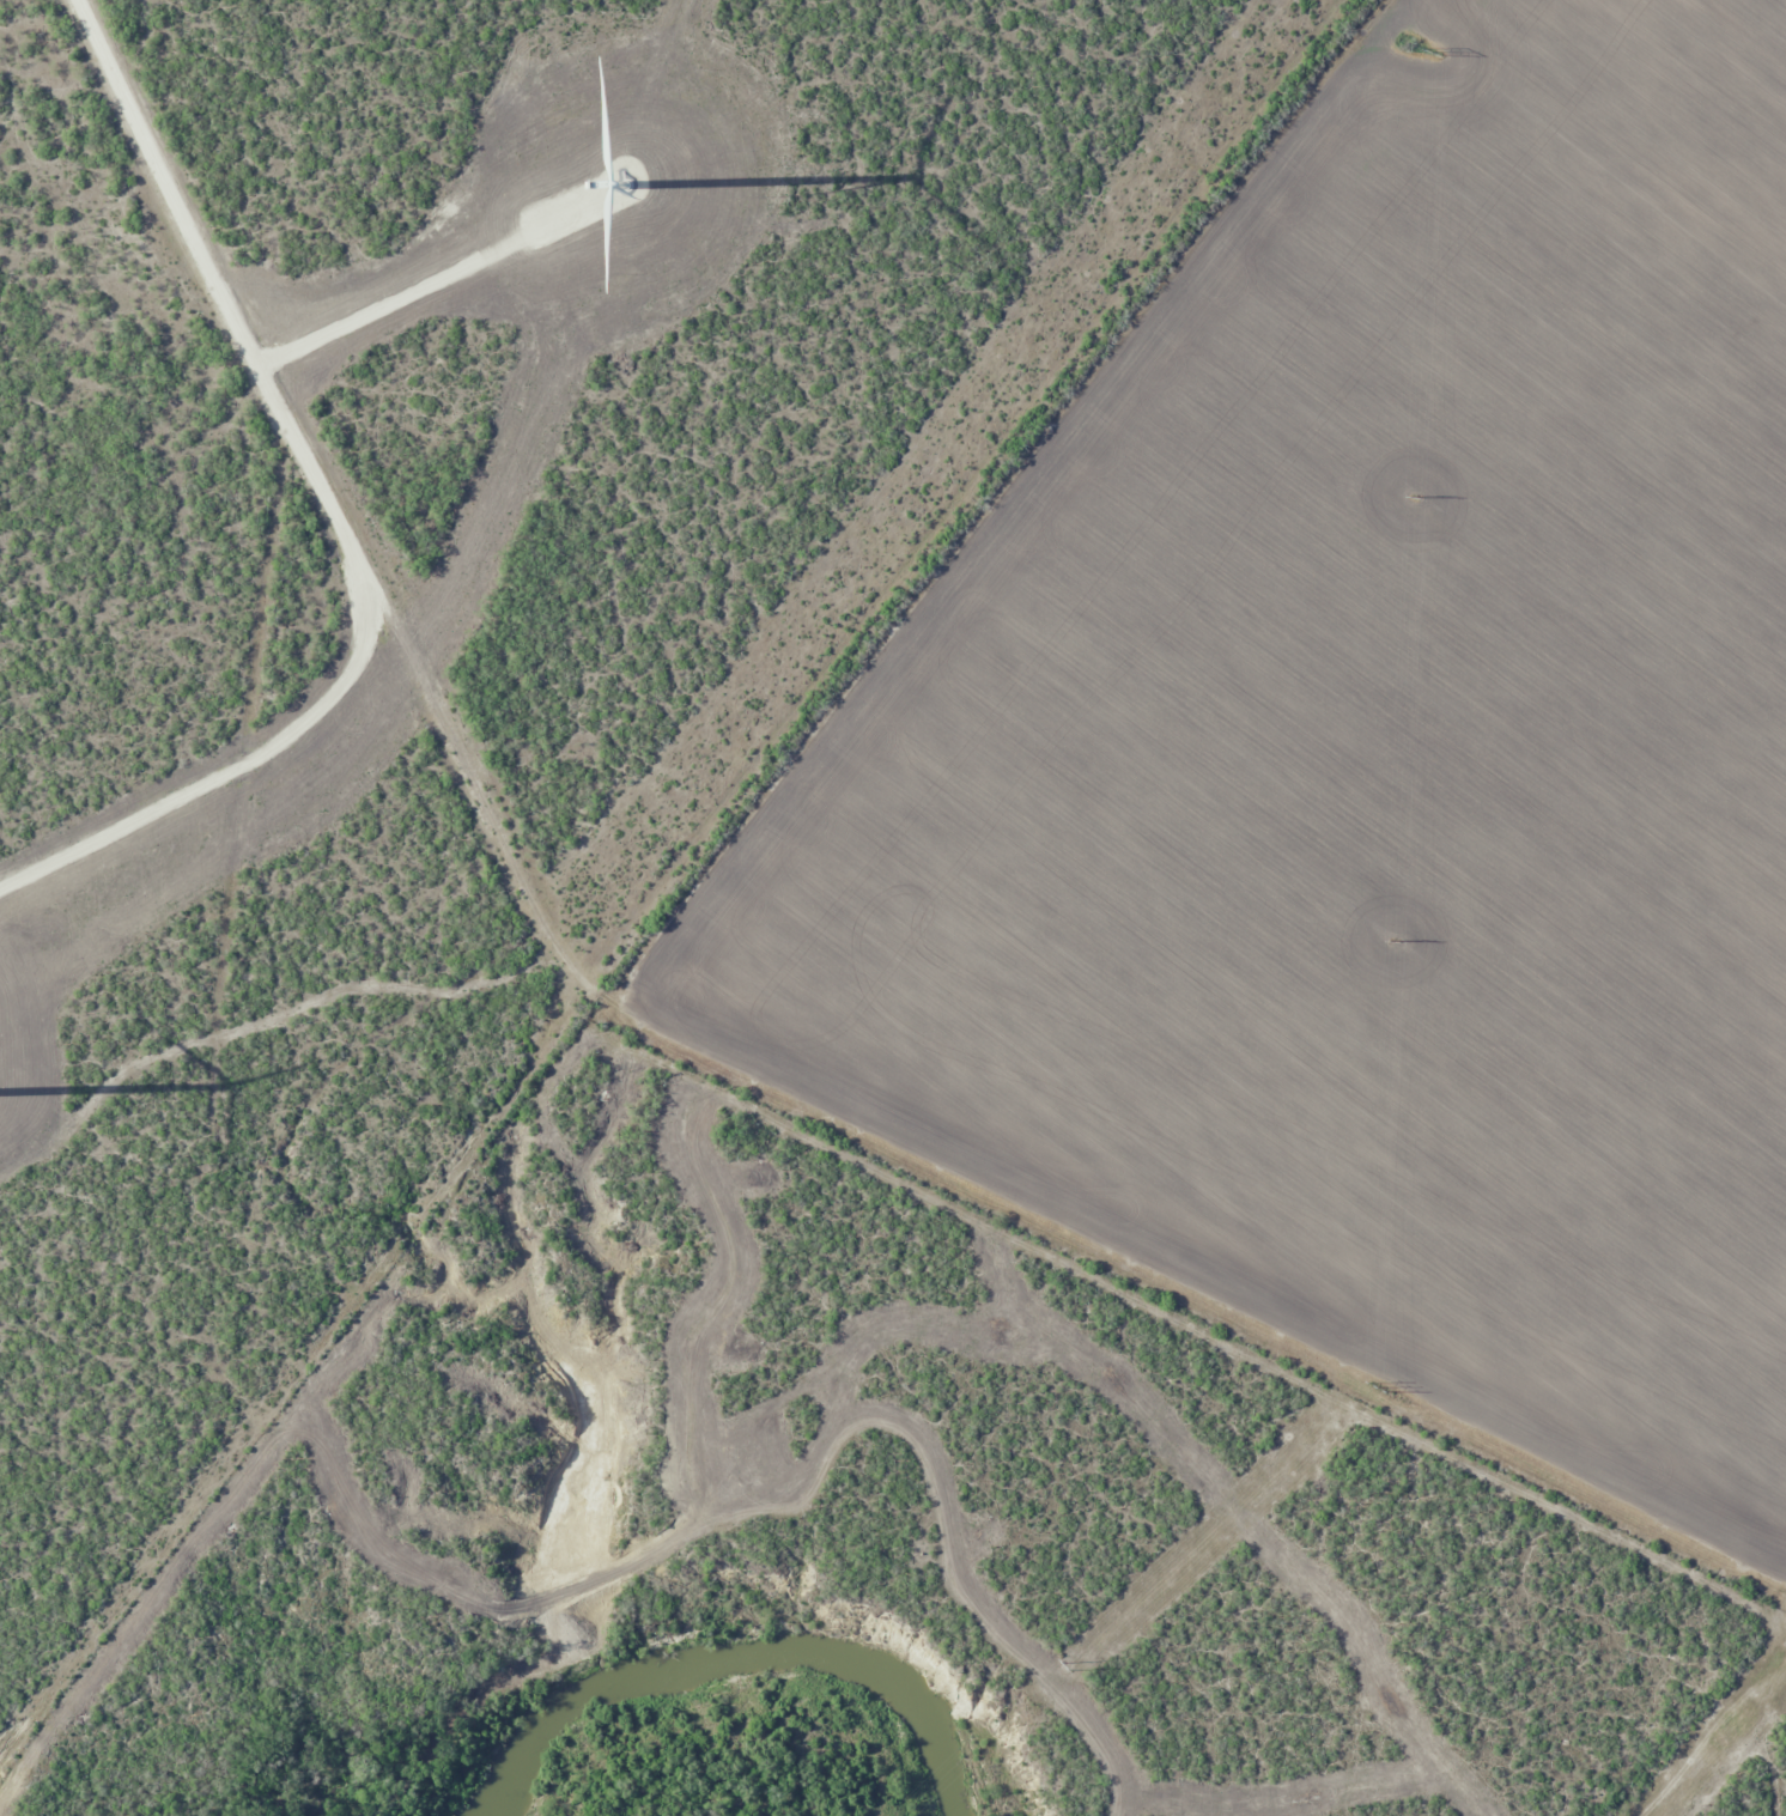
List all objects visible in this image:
power tower: (1434, 51)
wind turbine: (613, 165)
power tower: (1414, 496)
road: (1027, 499)
power tower: (1393, 939)
road: (675, 1063)
power tower: (1378, 1385)
river: (730, 1654)
power tower: (1067, 1666)

